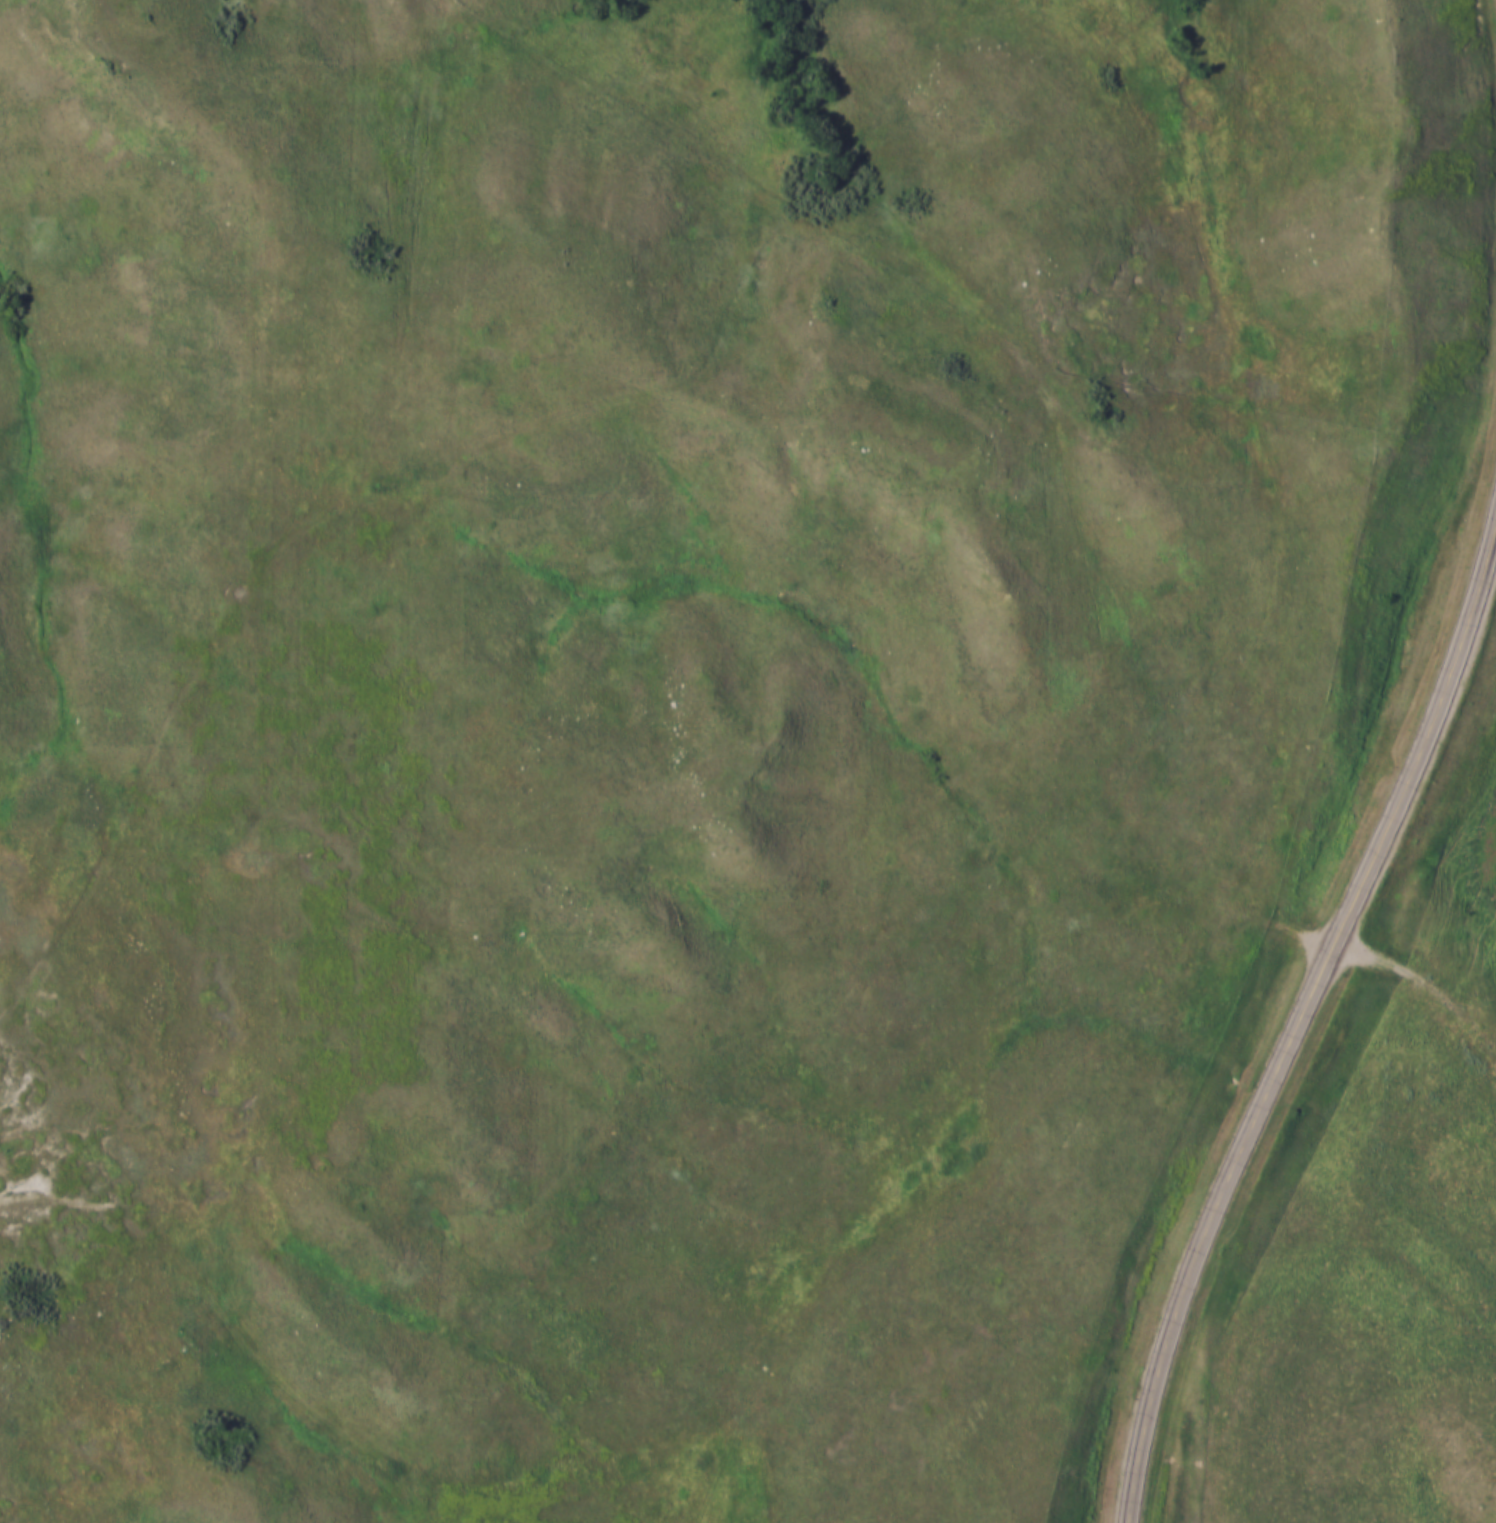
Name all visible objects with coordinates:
road: (1300, 1023)

